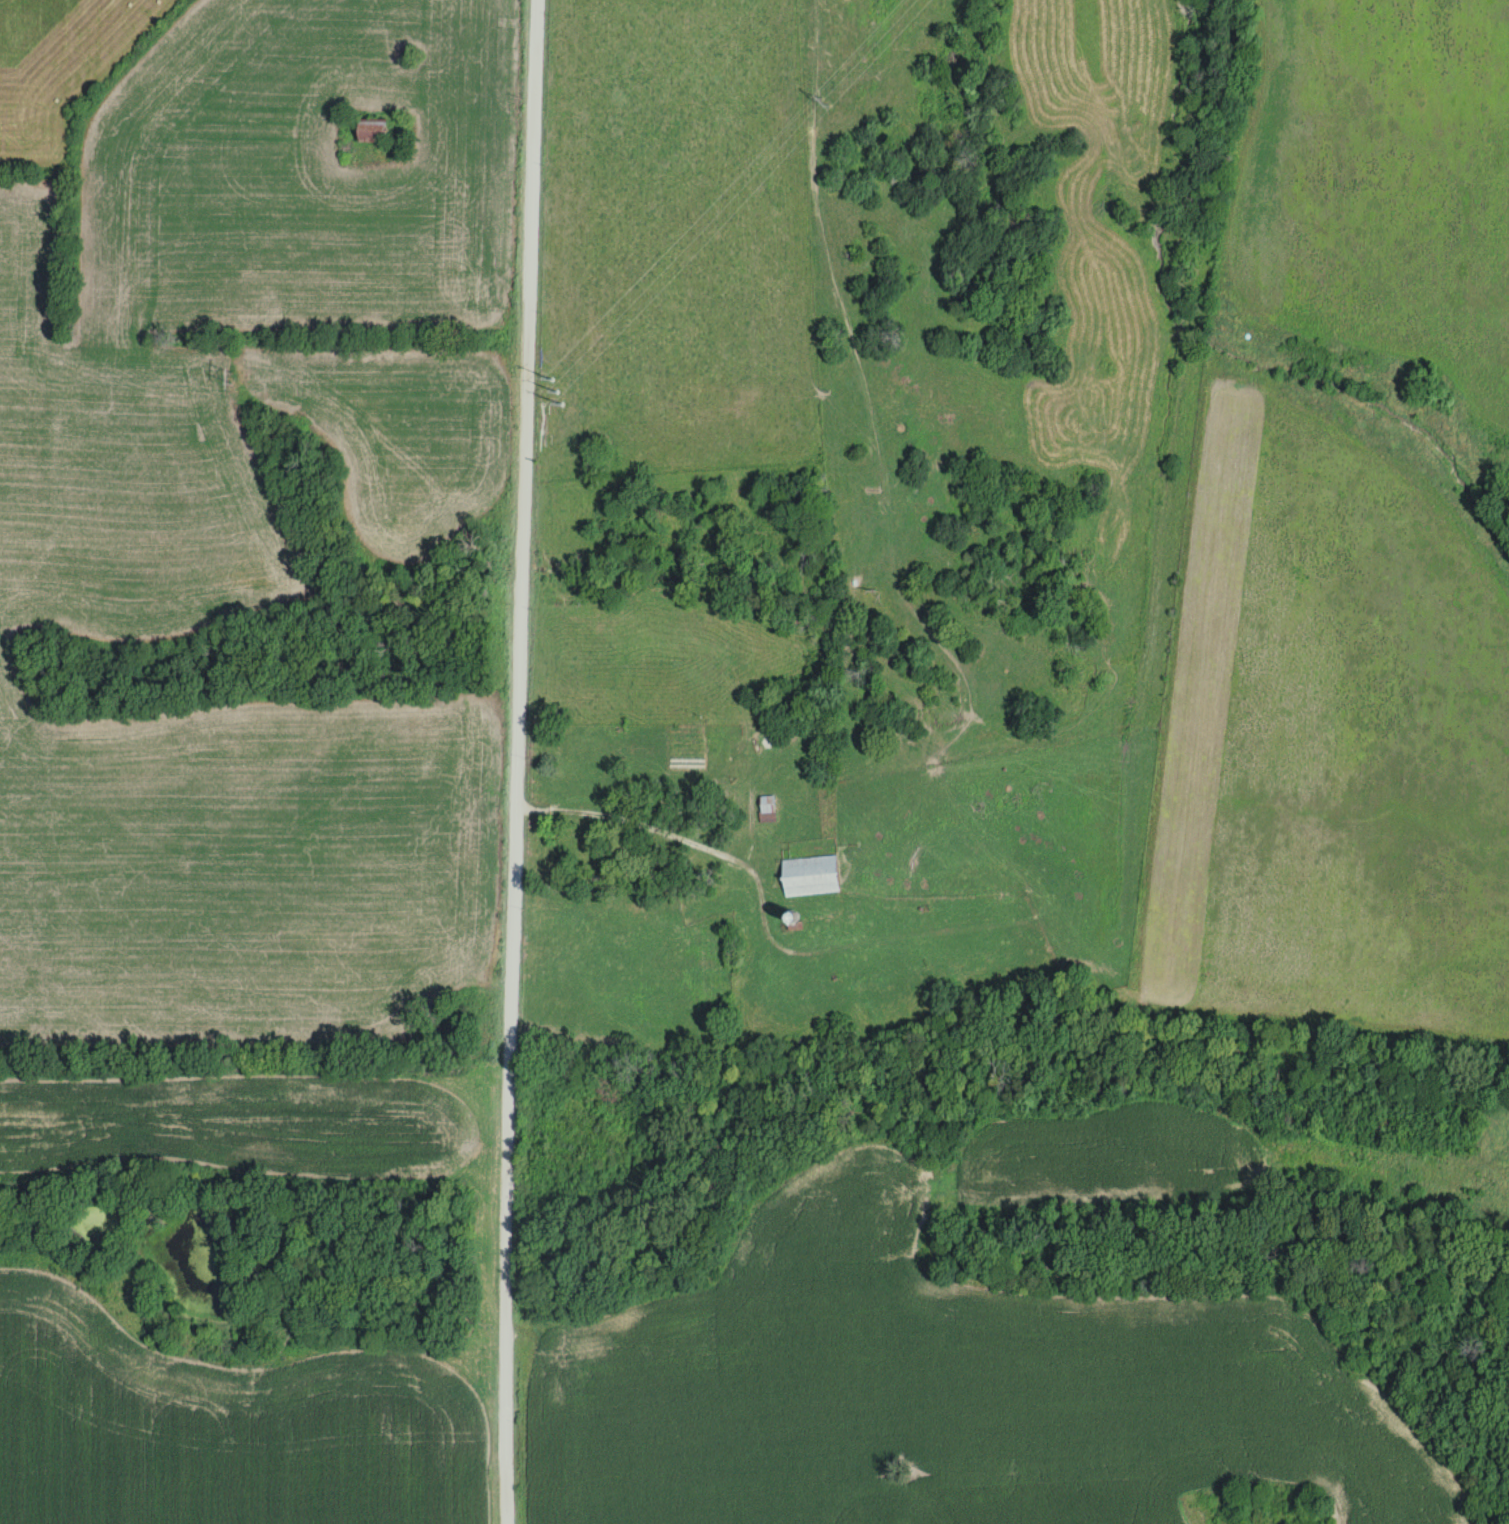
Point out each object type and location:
building: (370, 129)
road: (516, 761)
building: (765, 808)
building: (808, 875)

